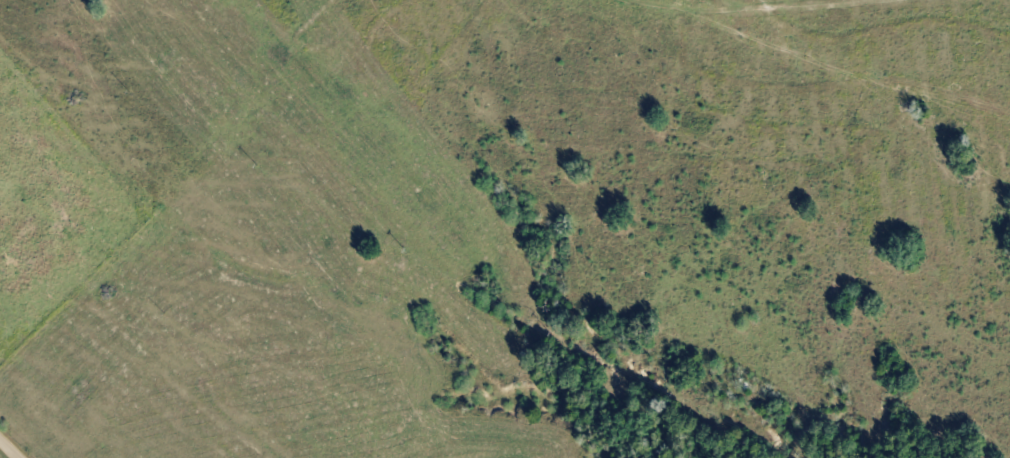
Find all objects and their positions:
road: (12, 446)

